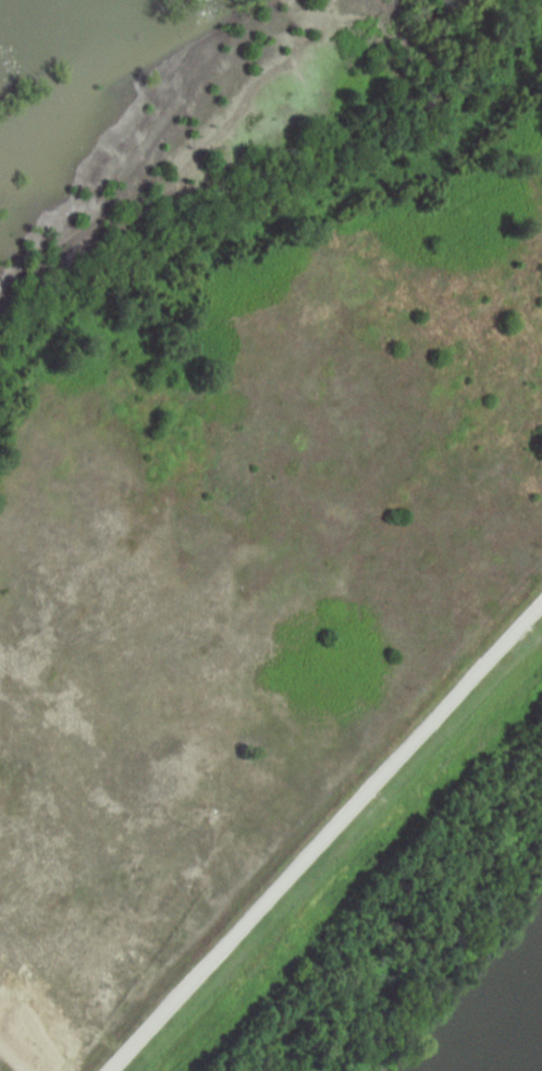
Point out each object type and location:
road: (323, 835)

